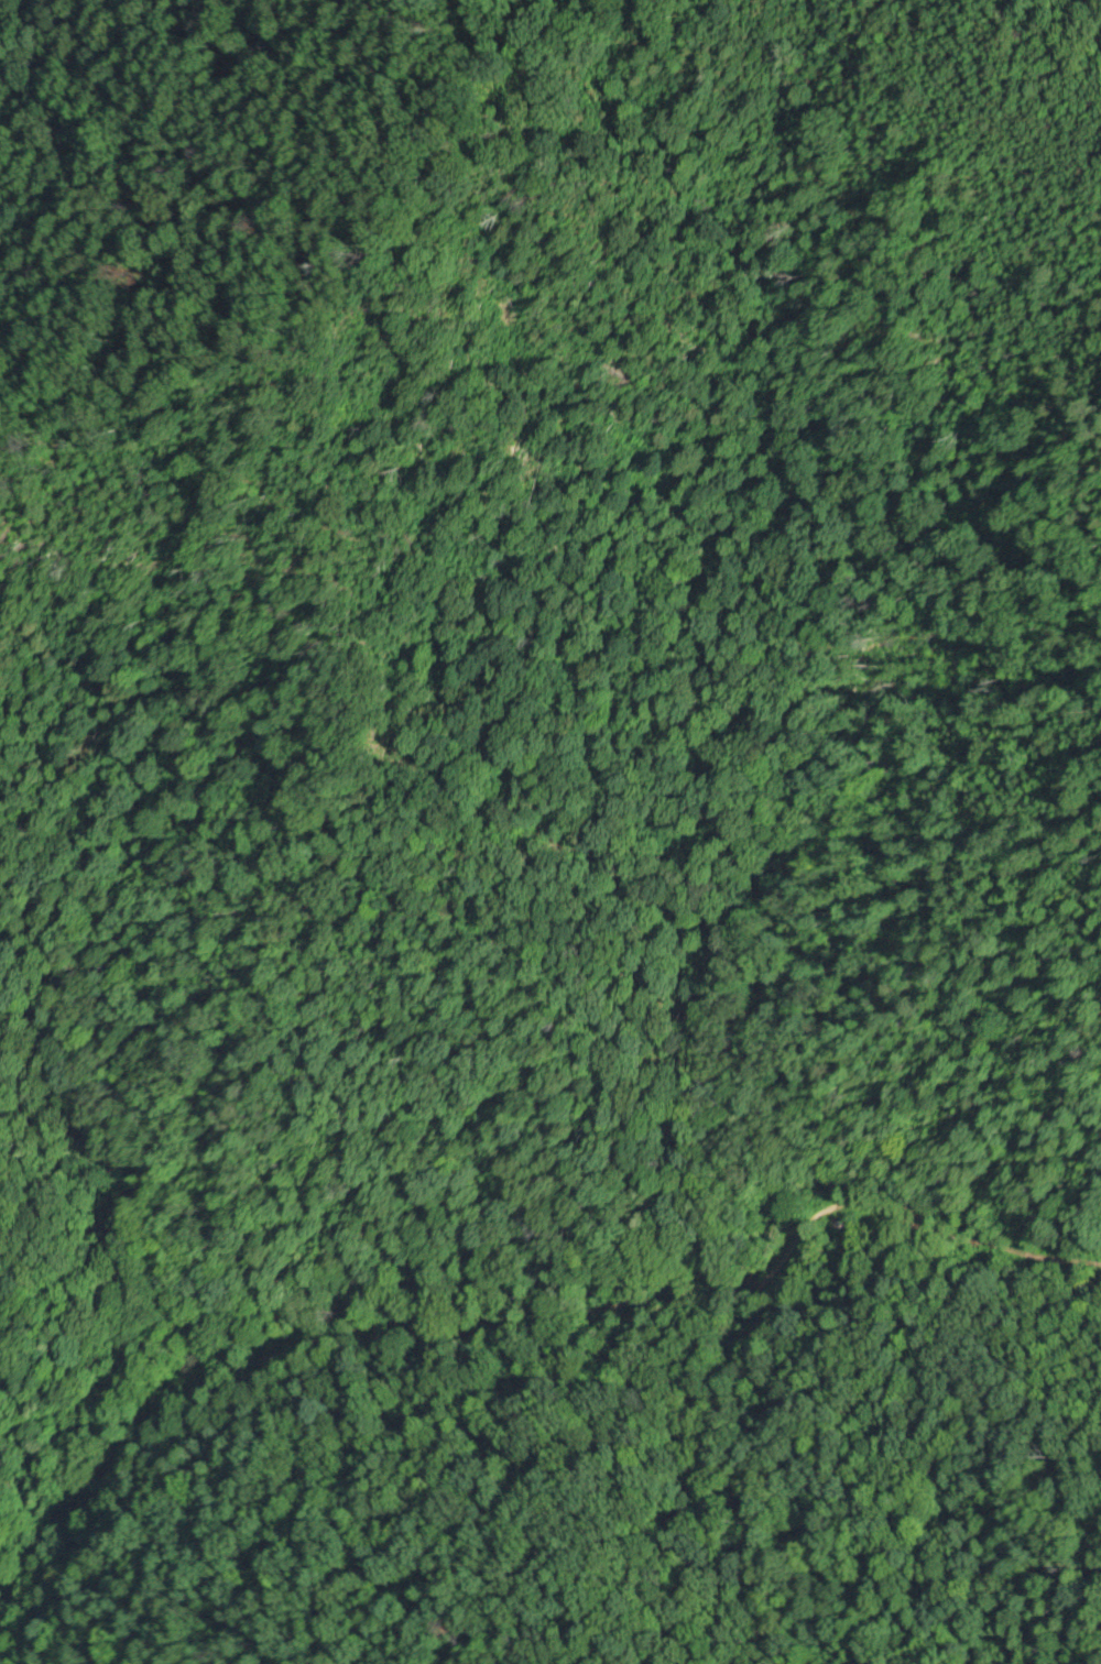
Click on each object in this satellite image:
road: (511, 1357)

